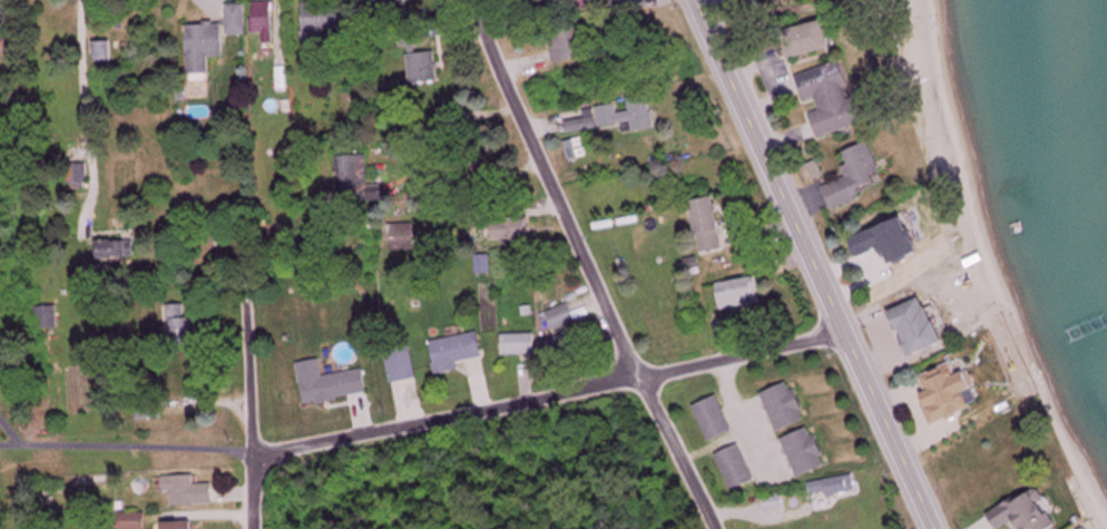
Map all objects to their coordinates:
building: (578, 4)
road: (699, 7)
road: (702, 7)
building: (323, 19)
building: (239, 20)
building: (264, 20)
building: (813, 39)
building: (6, 46)
building: (571, 46)
building: (207, 47)
building: (106, 51)
building: (424, 69)
building: (835, 98)
building: (628, 115)
building: (355, 175)
building: (860, 178)
building: (711, 226)
building: (511, 228)
building: (402, 236)
building: (118, 251)
road: (590, 264)
building: (484, 265)
road: (817, 272)
building: (741, 294)
building: (49, 317)
building: (562, 317)
building: (183, 324)
building: (925, 327)
building: (703, 340)
building: (520, 344)
building: (567, 346)
building: (457, 352)
building: (403, 366)
building: (332, 383)
building: (954, 392)
road: (555, 395)
building: (786, 406)
building: (151, 410)
building: (715, 419)
road: (252, 420)
building: (963, 447)
building: (807, 452)
building: (738, 468)
building: (1021, 473)
building: (833, 487)
building: (190, 491)
road: (253, 494)
building: (987, 499)
building: (774, 503)
building: (1032, 512)
building: (135, 521)
building: (183, 526)

